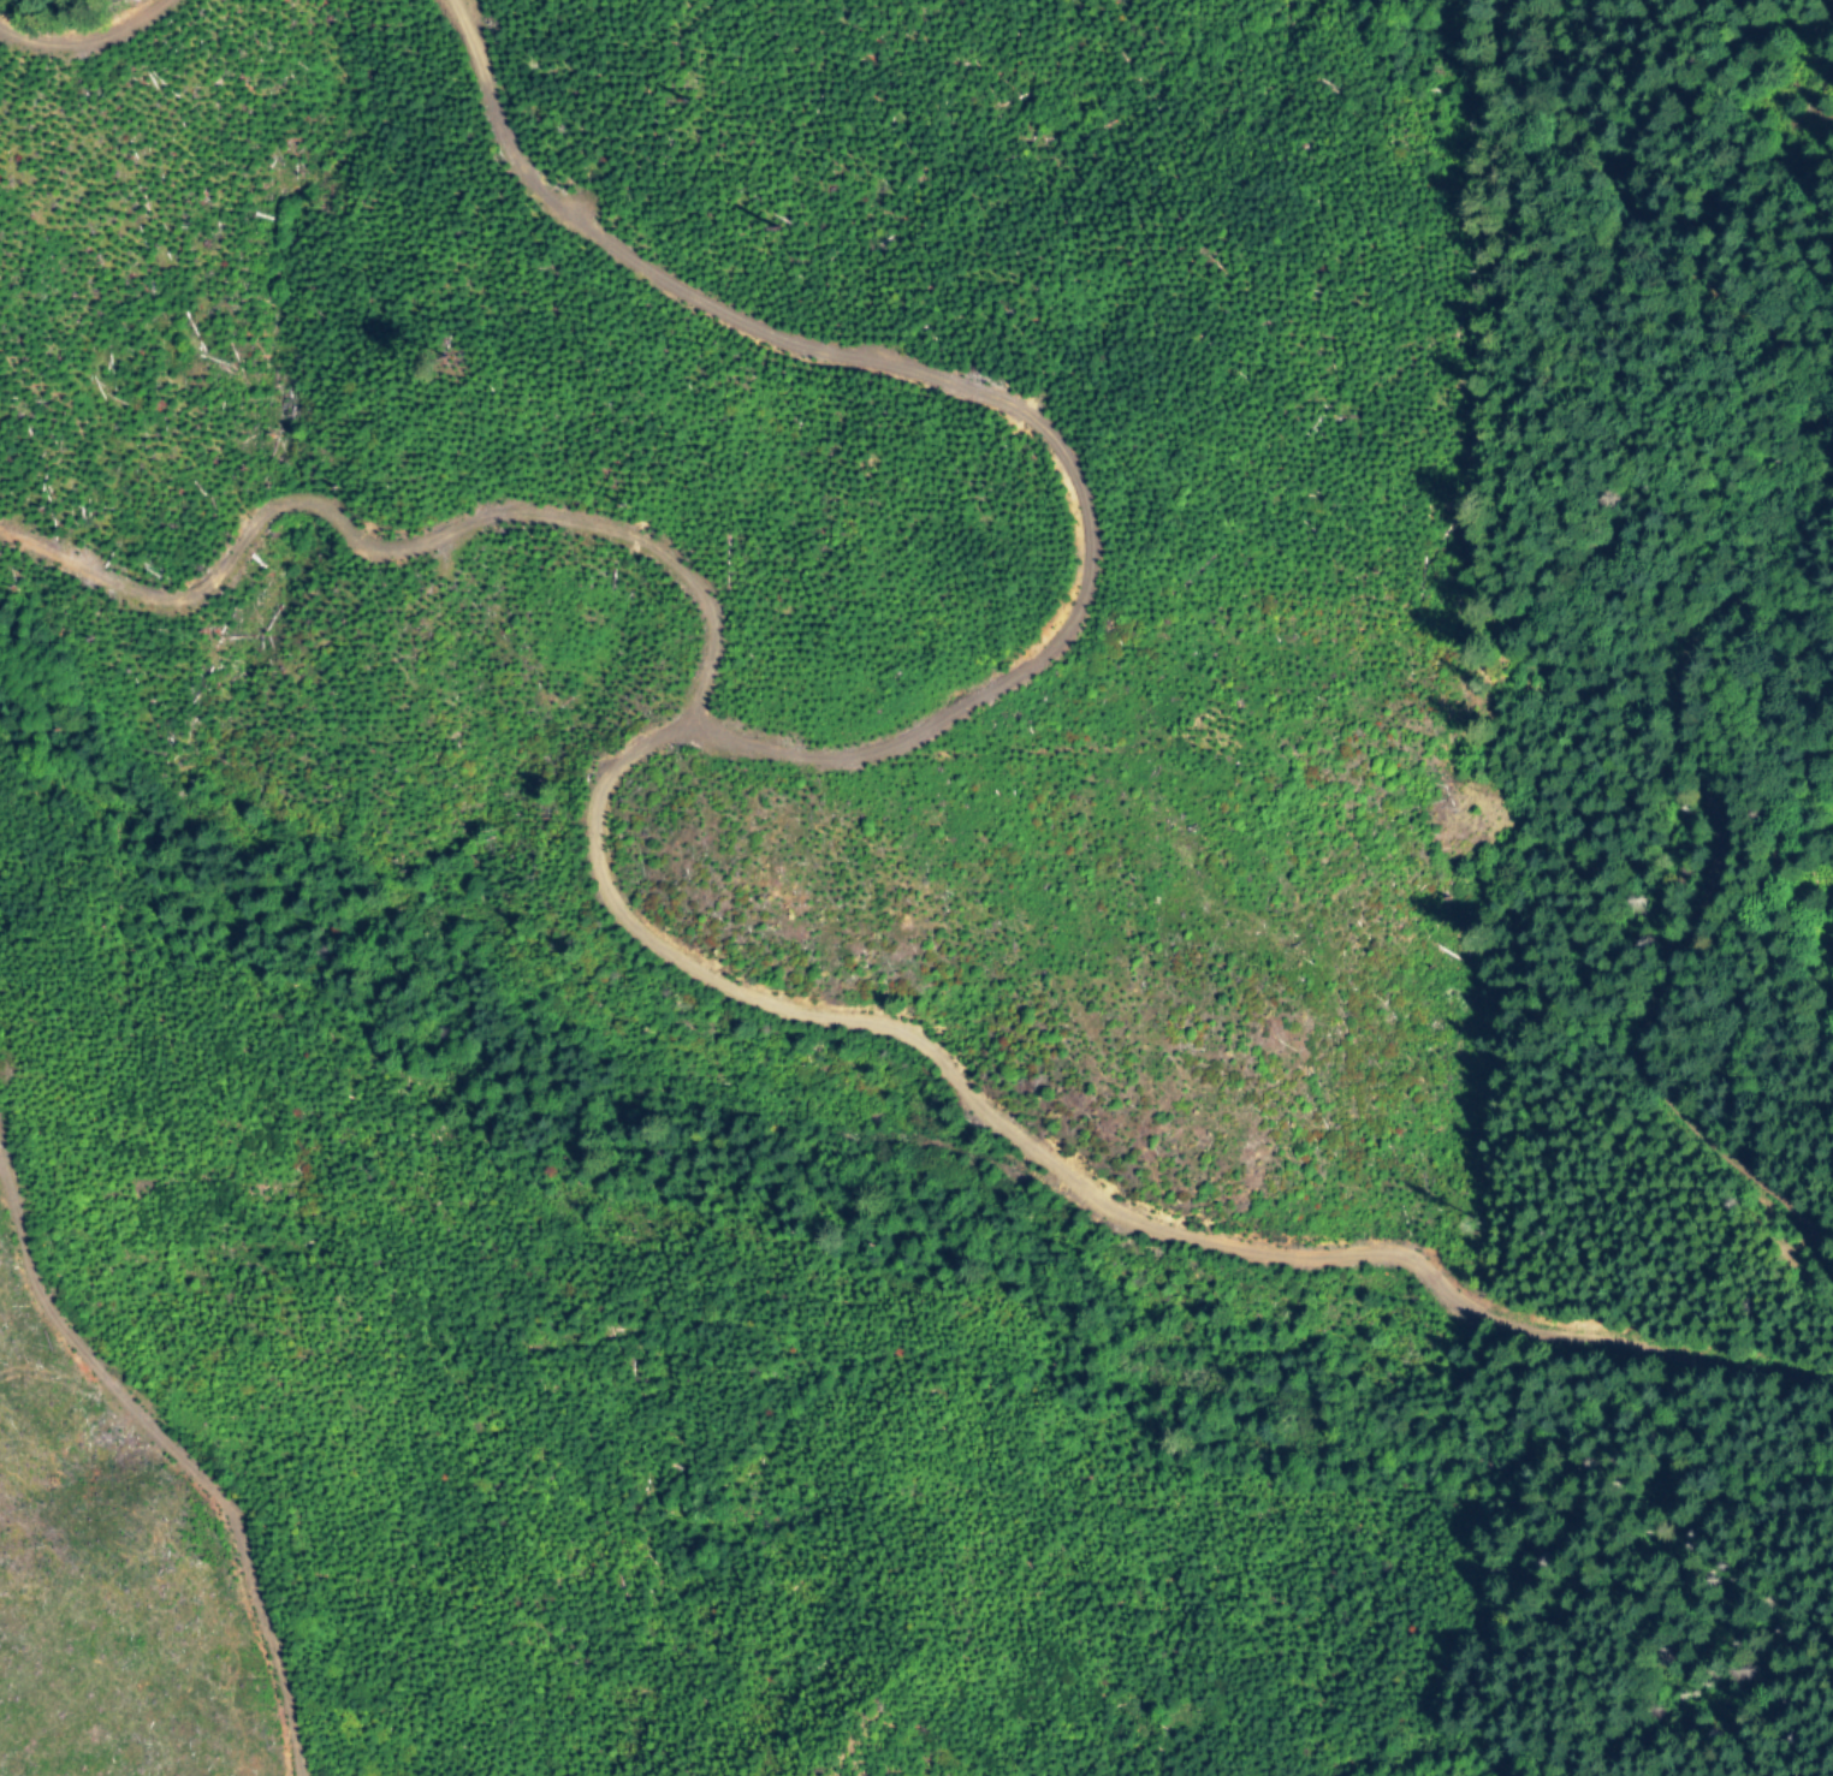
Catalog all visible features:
road: (81, 30)
road: (583, 859)
road: (1684, 913)
road: (172, 1455)

